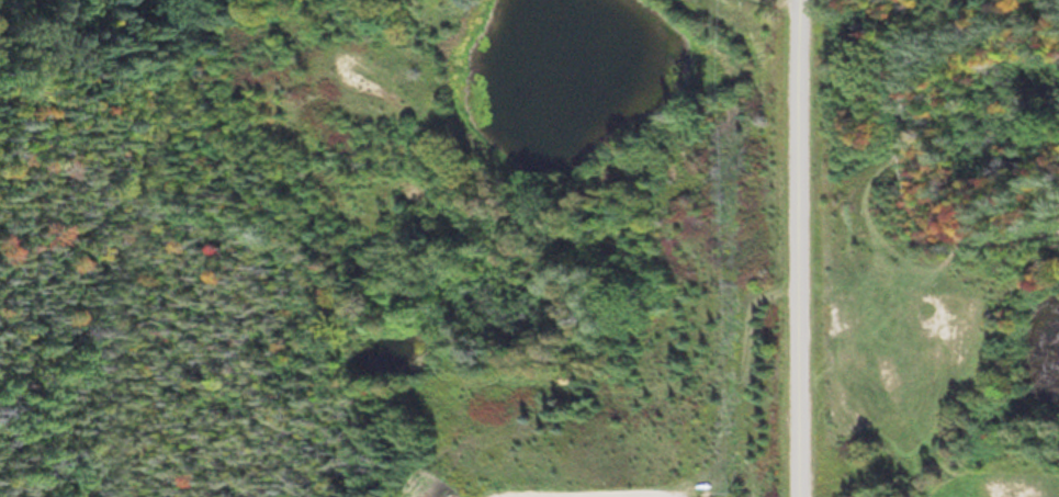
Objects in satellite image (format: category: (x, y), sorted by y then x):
road: (810, 248)
building: (568, 377)

